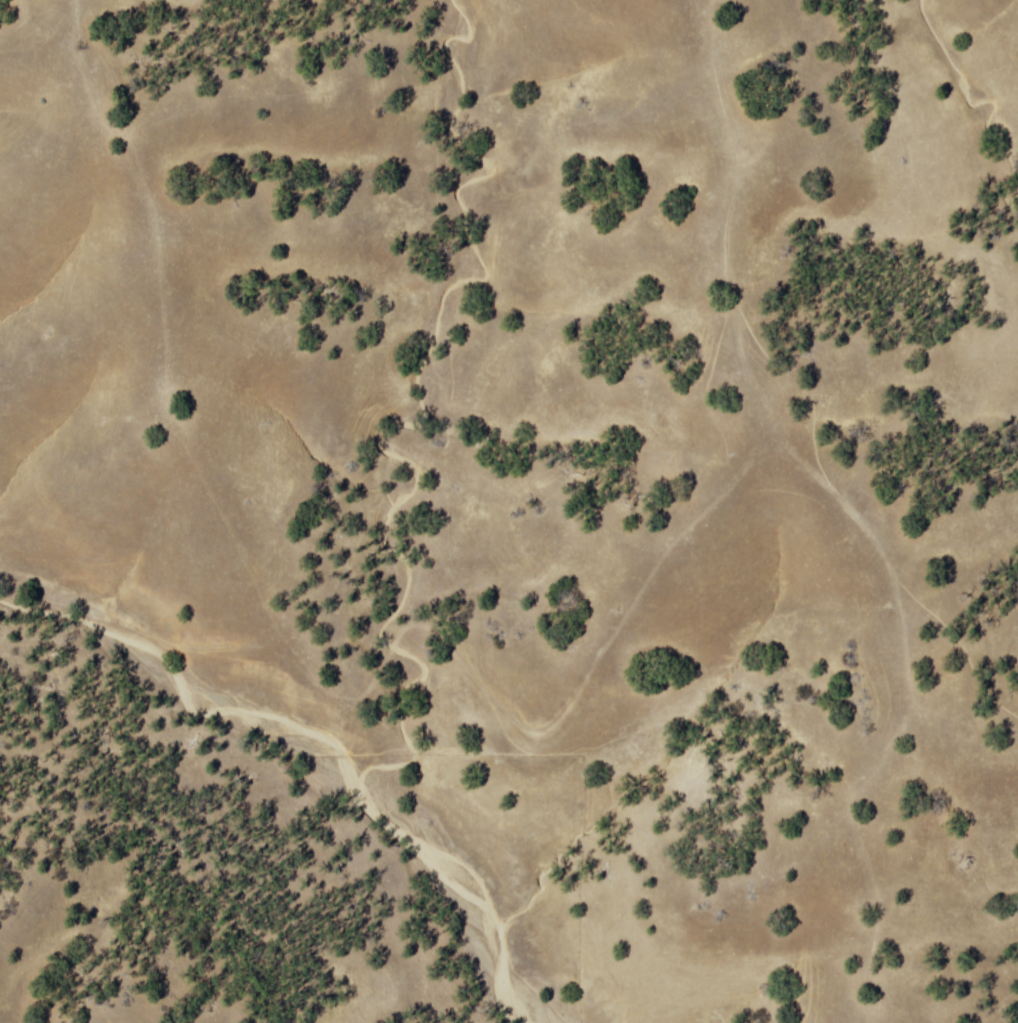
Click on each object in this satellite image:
road: (792, 450)

